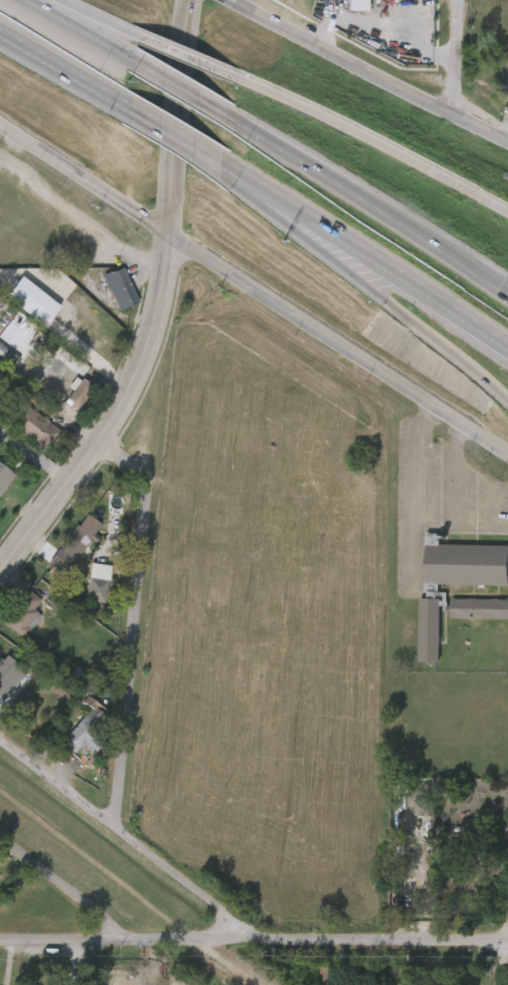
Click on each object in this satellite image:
building: (345, 9)
road: (97, 18)
road: (79, 31)
road: (383, 36)
road: (183, 56)
road: (462, 57)
building: (507, 60)
building: (500, 68)
road: (370, 70)
road: (65, 72)
road: (179, 89)
building: (502, 106)
road: (175, 136)
road: (503, 137)
road: (370, 139)
road: (243, 178)
road: (367, 205)
road: (299, 227)
road: (388, 269)
road: (255, 286)
building: (121, 287)
building: (107, 297)
building: (20, 309)
road: (155, 310)
road: (421, 328)
building: (104, 346)
building: (8, 354)
building: (44, 384)
building: (79, 390)
building: (36, 429)
building: (23, 436)
road: (465, 466)
building: (0, 484)
road: (415, 491)
road: (459, 495)
building: (2, 505)
road: (494, 507)
road: (477, 529)
road: (501, 529)
building: (76, 544)
building: (95, 588)
building: (83, 591)
building: (437, 595)
building: (25, 615)
building: (469, 617)
building: (12, 621)
road: (132, 623)
building: (9, 672)
building: (1, 702)
building: (89, 729)
building: (74, 737)
building: (409, 815)
road: (126, 836)
building: (500, 869)
building: (467, 887)
road: (61, 890)
building: (454, 893)
road: (254, 939)
road: (486, 964)
building: (56, 984)

